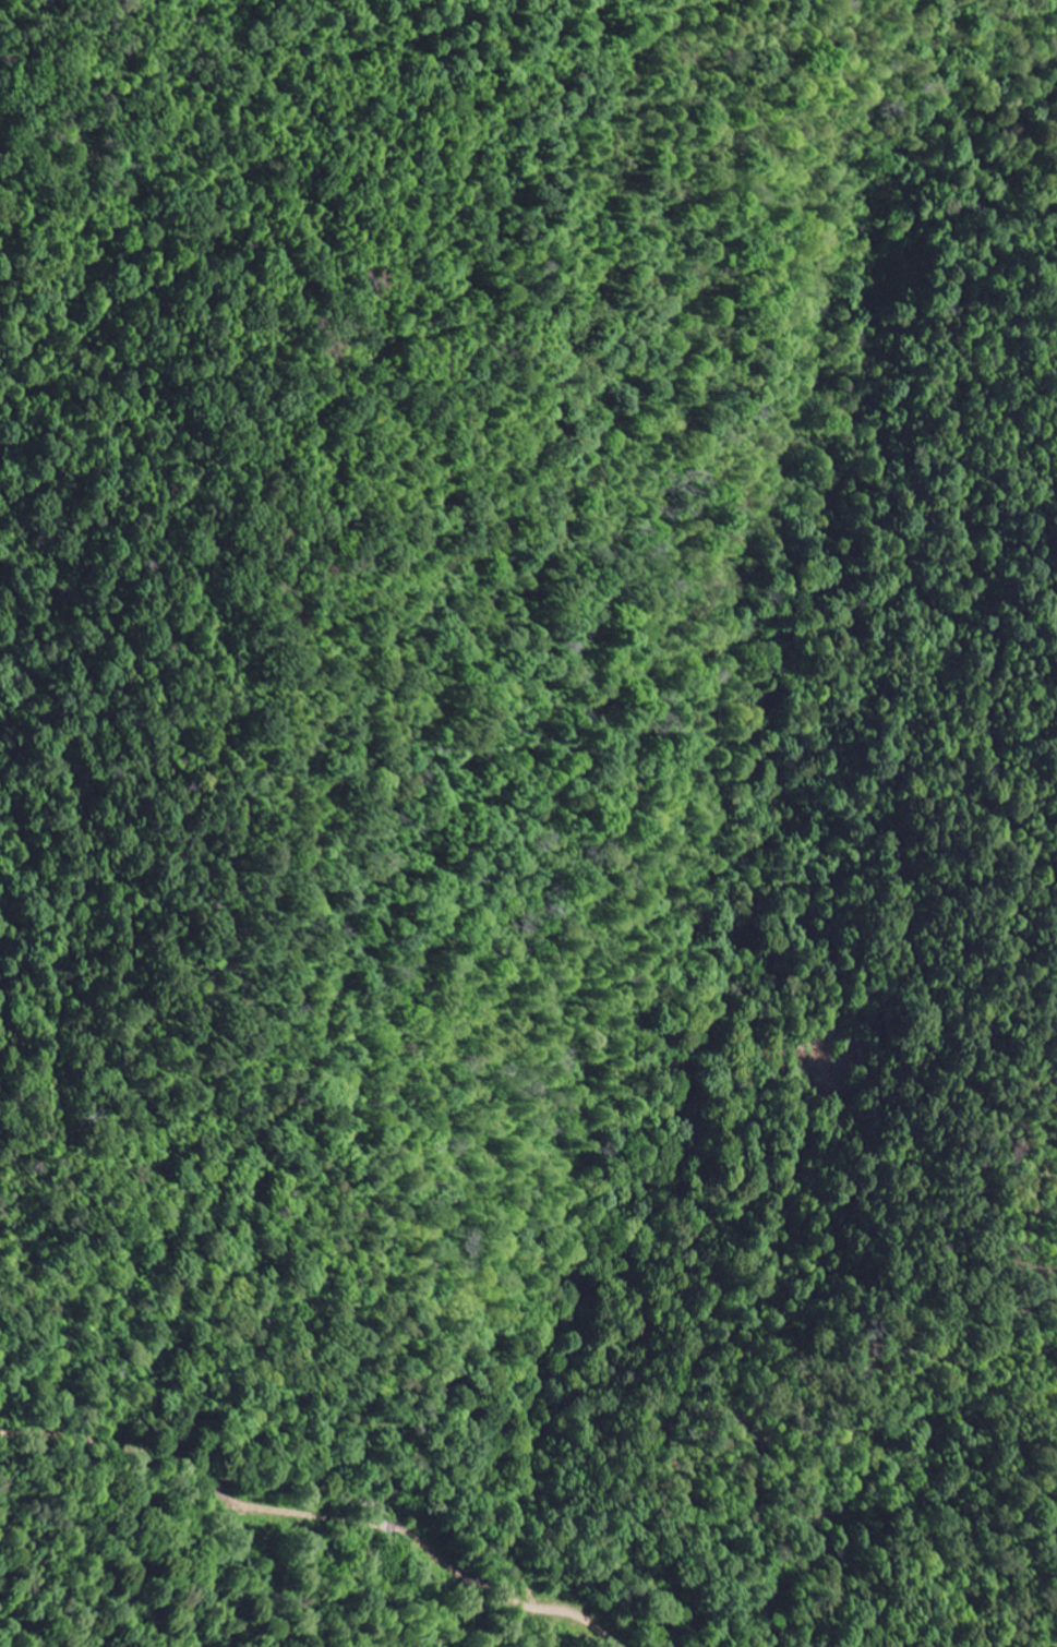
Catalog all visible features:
road: (335, 1501)

